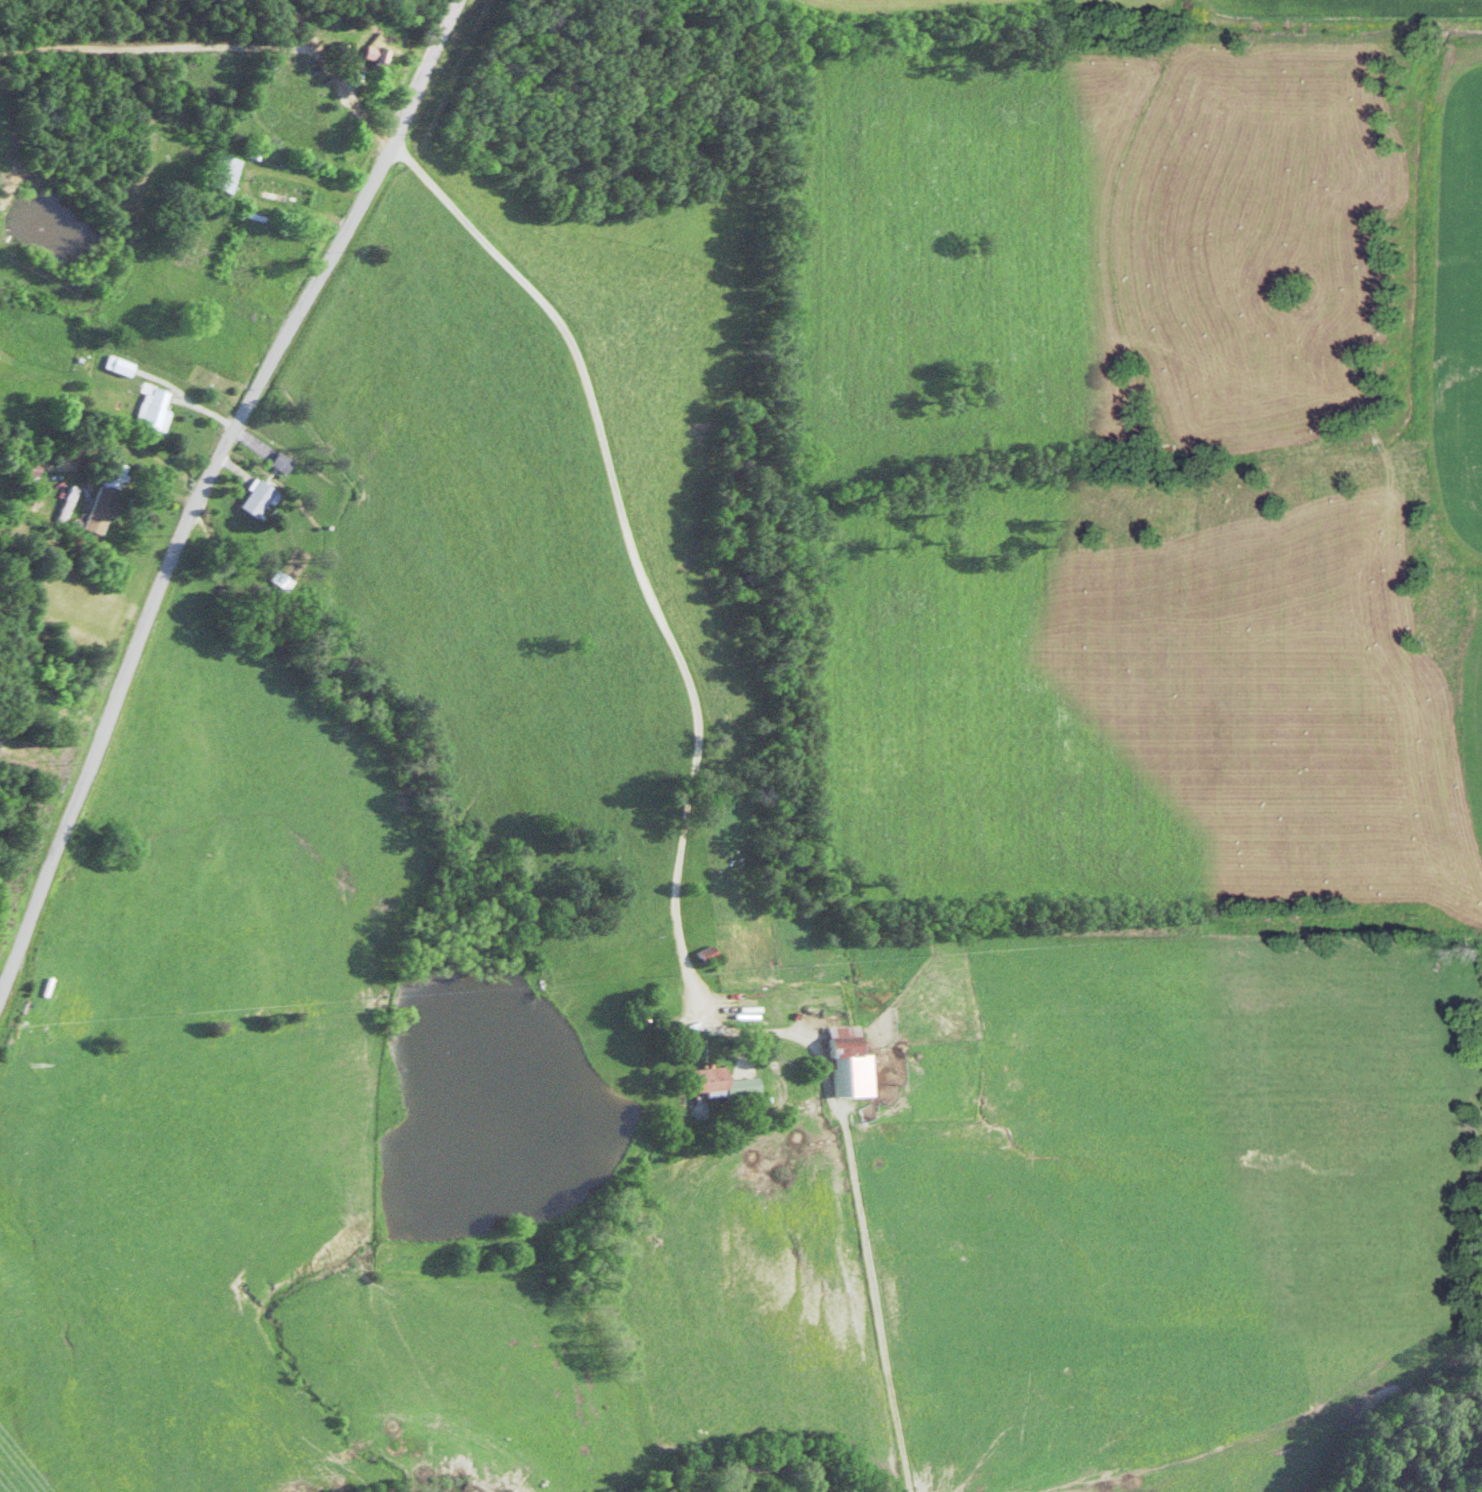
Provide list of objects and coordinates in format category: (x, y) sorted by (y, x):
road: (157, 46)
building: (366, 60)
building: (214, 174)
road: (245, 184)
building: (275, 194)
building: (147, 409)
road: (124, 431)
building: (273, 462)
road: (152, 475)
road: (200, 484)
road: (610, 485)
building: (99, 497)
building: (248, 499)
building: (61, 505)
building: (698, 955)
building: (841, 1063)
building: (714, 1085)

